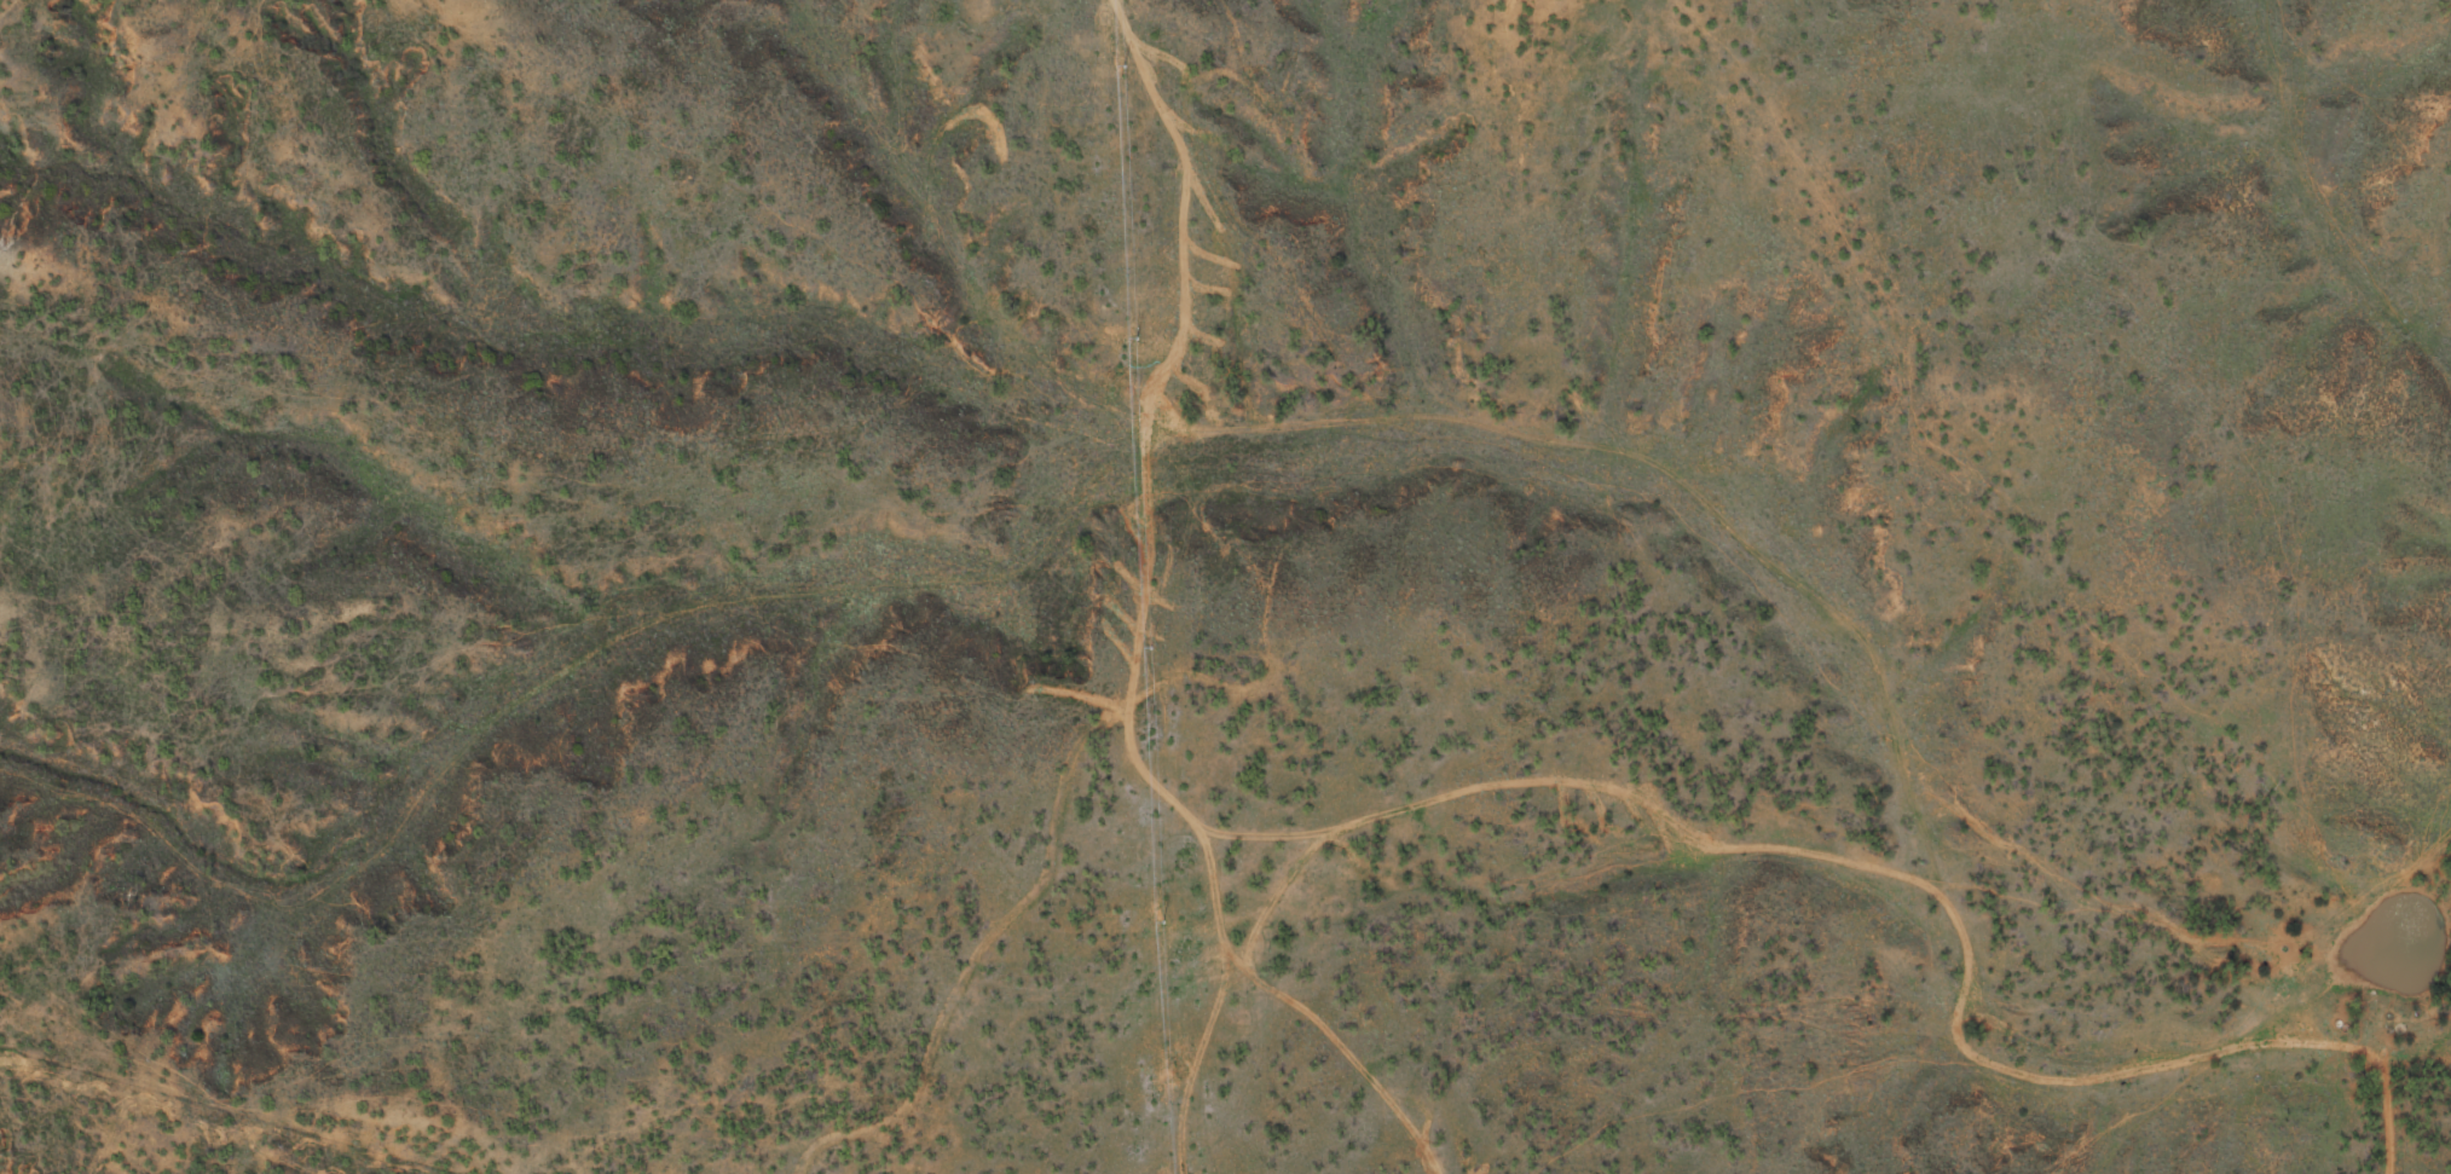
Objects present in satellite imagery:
road: (2387, 1108)

